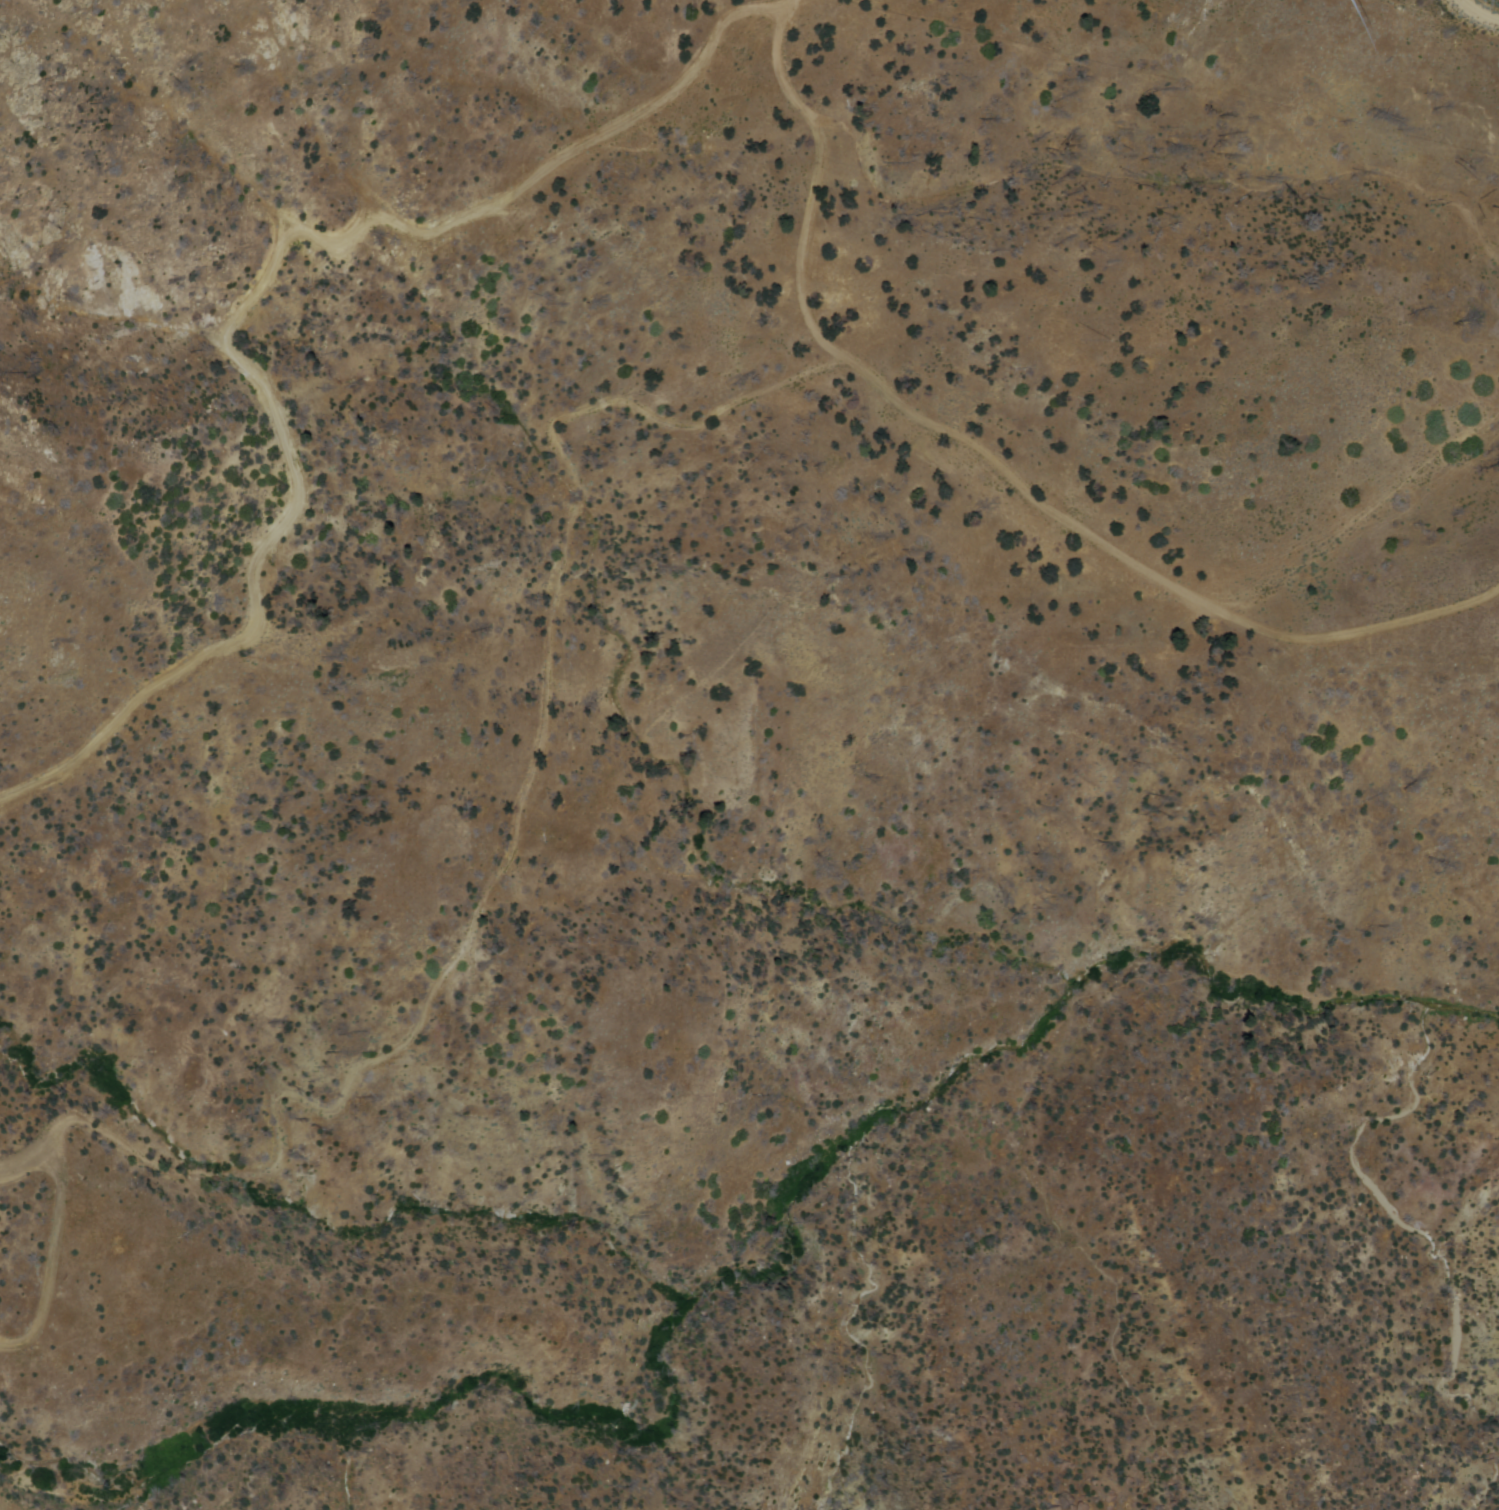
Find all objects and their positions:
road: (247, 315)
road: (992, 456)
road: (54, 1236)
road: (1, 1508)

